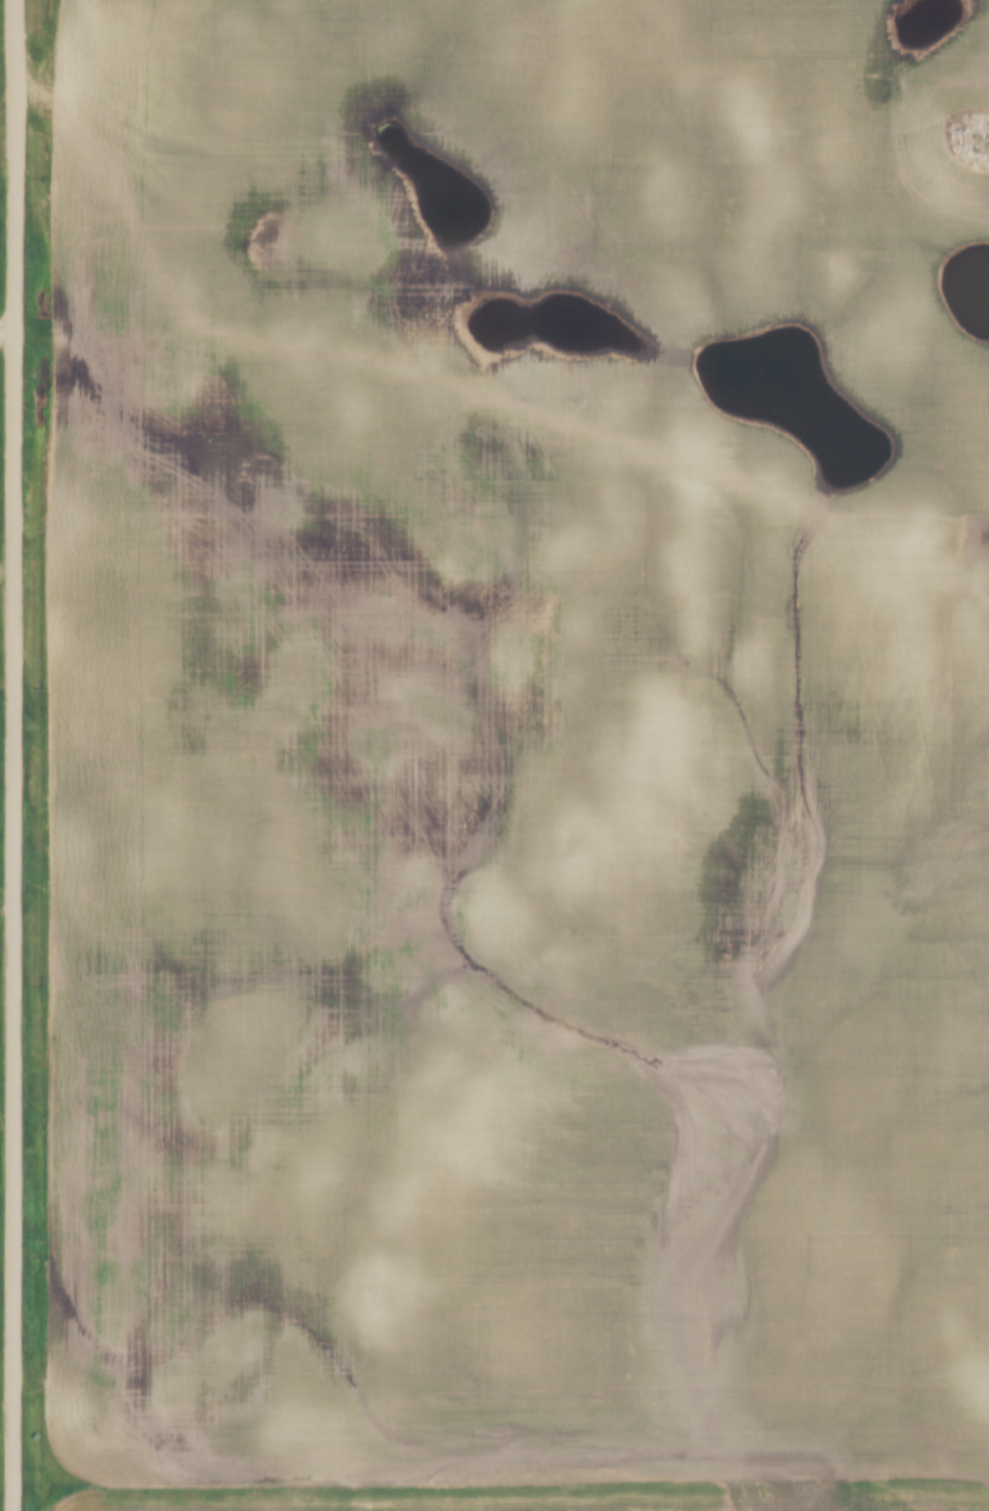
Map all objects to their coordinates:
road: (6, 333)
road: (504, 409)
road: (12, 755)

